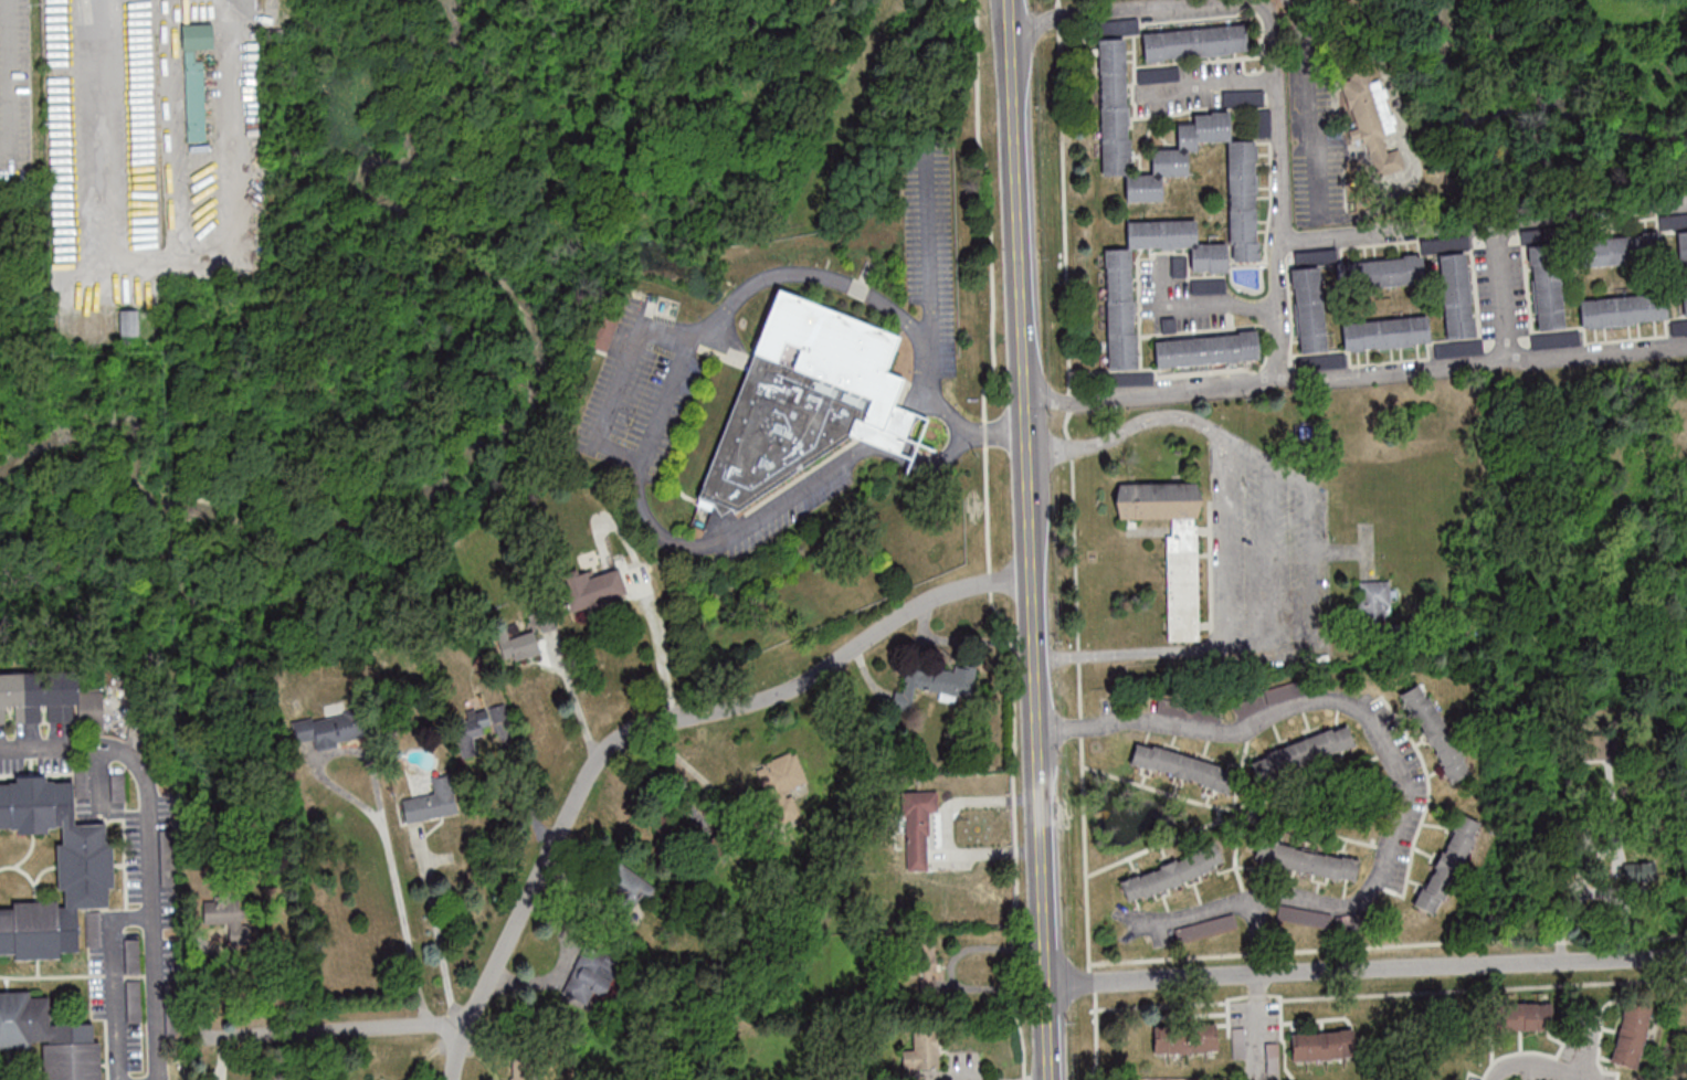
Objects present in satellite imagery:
building: (1507, 6)
building: (1195, 42)
road: (1273, 71)
building: (1158, 74)
building: (196, 80)
road: (6, 83)
road: (1212, 83)
road: (1315, 97)
building: (1244, 98)
river: (1511, 106)
building: (1372, 121)
road: (113, 134)
building: (1500, 135)
road: (230, 177)
building: (1143, 190)
road: (1016, 201)
building: (1673, 221)
road: (1483, 223)
building: (1623, 248)
building: (1308, 256)
building: (1683, 267)
building: (1423, 277)
road: (928, 280)
building: (1548, 285)
road: (1505, 292)
road: (1202, 300)
building: (1310, 309)
building: (1623, 309)
building: (128, 322)
road: (715, 325)
building: (1678, 326)
building: (603, 329)
building: (1372, 339)
building: (1557, 339)
building: (1458, 348)
building: (1206, 349)
road: (1483, 363)
road: (1151, 394)
building: (806, 399)
road: (663, 401)
road: (926, 403)
road: (953, 416)
road: (903, 420)
river: (491, 432)
road: (993, 432)
road: (881, 441)
road: (902, 448)
road: (945, 460)
road: (1220, 531)
road: (727, 537)
building: (1171, 544)
road: (1299, 548)
building: (591, 587)
building: (1374, 602)
road: (662, 653)
building: (929, 686)
road: (779, 695)
building: (49, 699)
road: (574, 703)
building: (500, 711)
building: (329, 730)
building: (470, 730)
road: (1381, 732)
building: (1435, 732)
road: (1037, 740)
building: (1592, 743)
road: (75, 747)
building: (1301, 752)
building: (1183, 766)
building: (780, 784)
building: (432, 801)
road: (381, 816)
building: (917, 827)
road: (947, 828)
building: (1306, 860)
building: (1447, 865)
building: (84, 866)
building: (1171, 872)
building: (626, 886)
building: (221, 910)
road: (1183, 917)
building: (1304, 917)
road: (154, 925)
road: (434, 927)
building: (1205, 928)
road: (500, 954)
building: (926, 967)
road: (1366, 970)
building: (589, 977)
road: (113, 981)
building: (1521, 1016)
road: (357, 1027)
road: (1257, 1027)
building: (1631, 1034)
building: (50, 1038)
building: (1184, 1038)
building: (1322, 1045)
road: (1585, 1047)
building: (920, 1055)
building: (1273, 1057)
road: (1537, 1068)
building: (520, 1071)
building: (1474, 1079)

